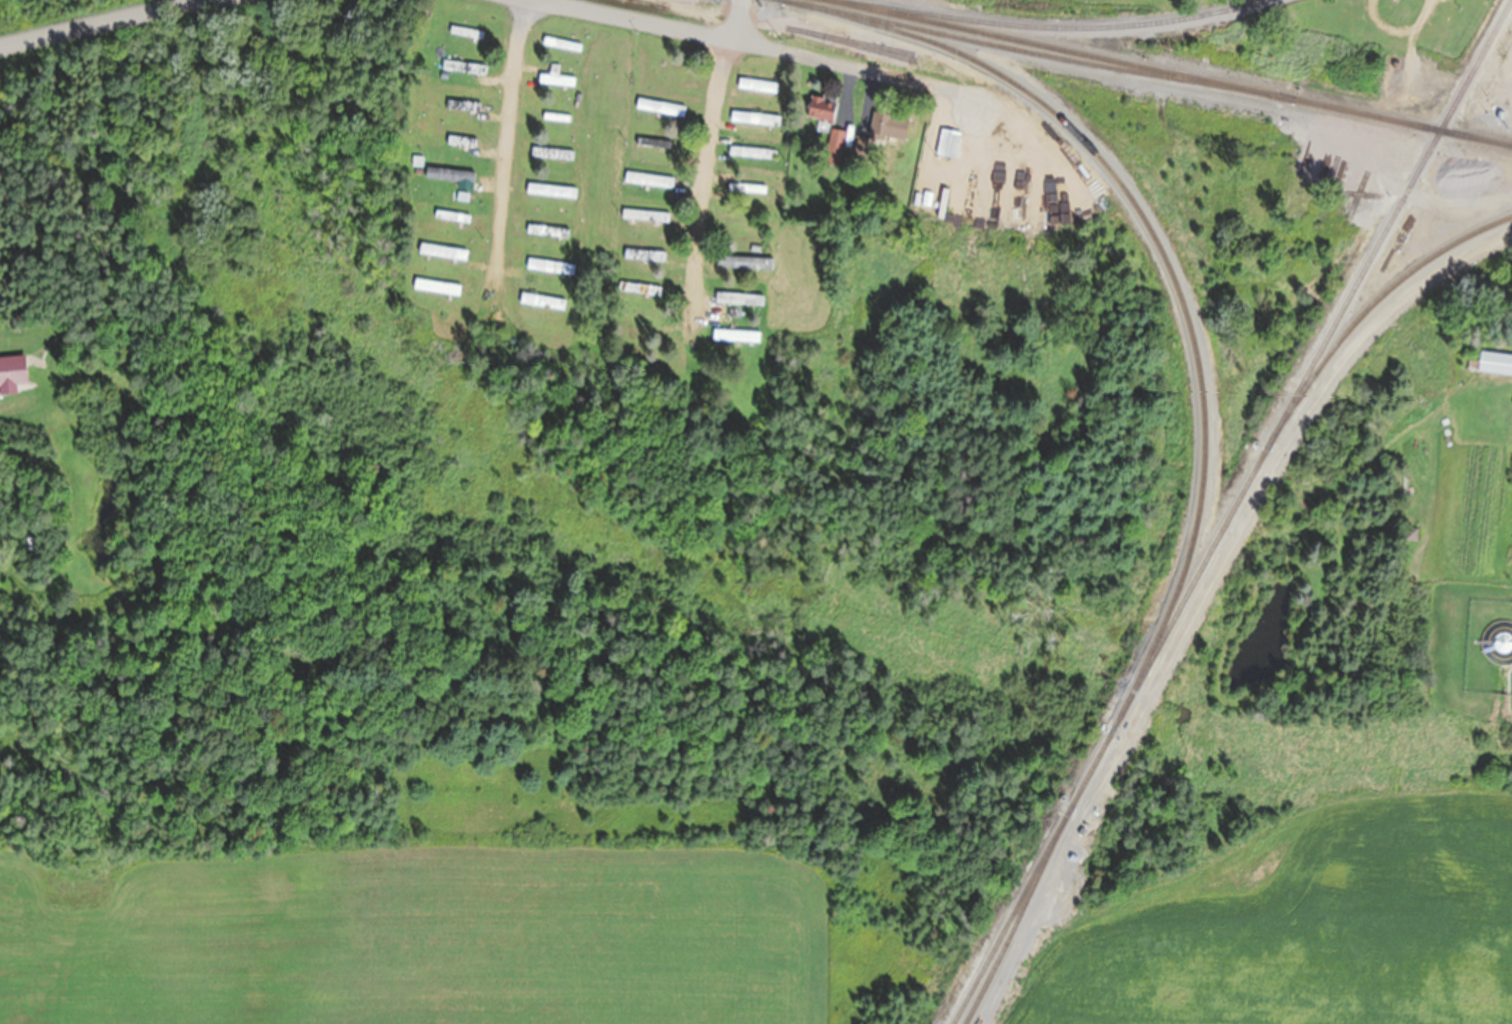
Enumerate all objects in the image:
building: (1321, 19)
road: (100, 23)
railway: (1052, 27)
building: (466, 32)
railway: (942, 33)
building: (561, 43)
road: (759, 48)
building: (464, 66)
railway: (1171, 73)
building: (556, 79)
railway: (1195, 81)
building: (756, 85)
building: (462, 105)
building: (660, 106)
building: (820, 108)
building: (556, 117)
building: (755, 118)
building: (887, 126)
building: (461, 141)
building: (653, 142)
building: (857, 143)
building: (947, 143)
road: (510, 147)
building: (834, 147)
building: (553, 152)
building: (749, 152)
road: (704, 169)
building: (451, 176)
building: (648, 179)
building: (746, 188)
building: (551, 190)
park: (211, 198)
building: (645, 215)
building: (451, 216)
building: (548, 230)
building: (442, 251)
building: (644, 255)
railway: (1164, 256)
building: (744, 262)
building: (550, 266)
building: (436, 287)
building: (639, 288)
building: (738, 299)
building: (542, 301)
railway: (1368, 309)
building: (635, 318)
building: (735, 336)
building: (1494, 363)
building: (11, 373)
railway: (1230, 511)
building: (1410, 535)
building: (30, 544)
railway: (1018, 914)

